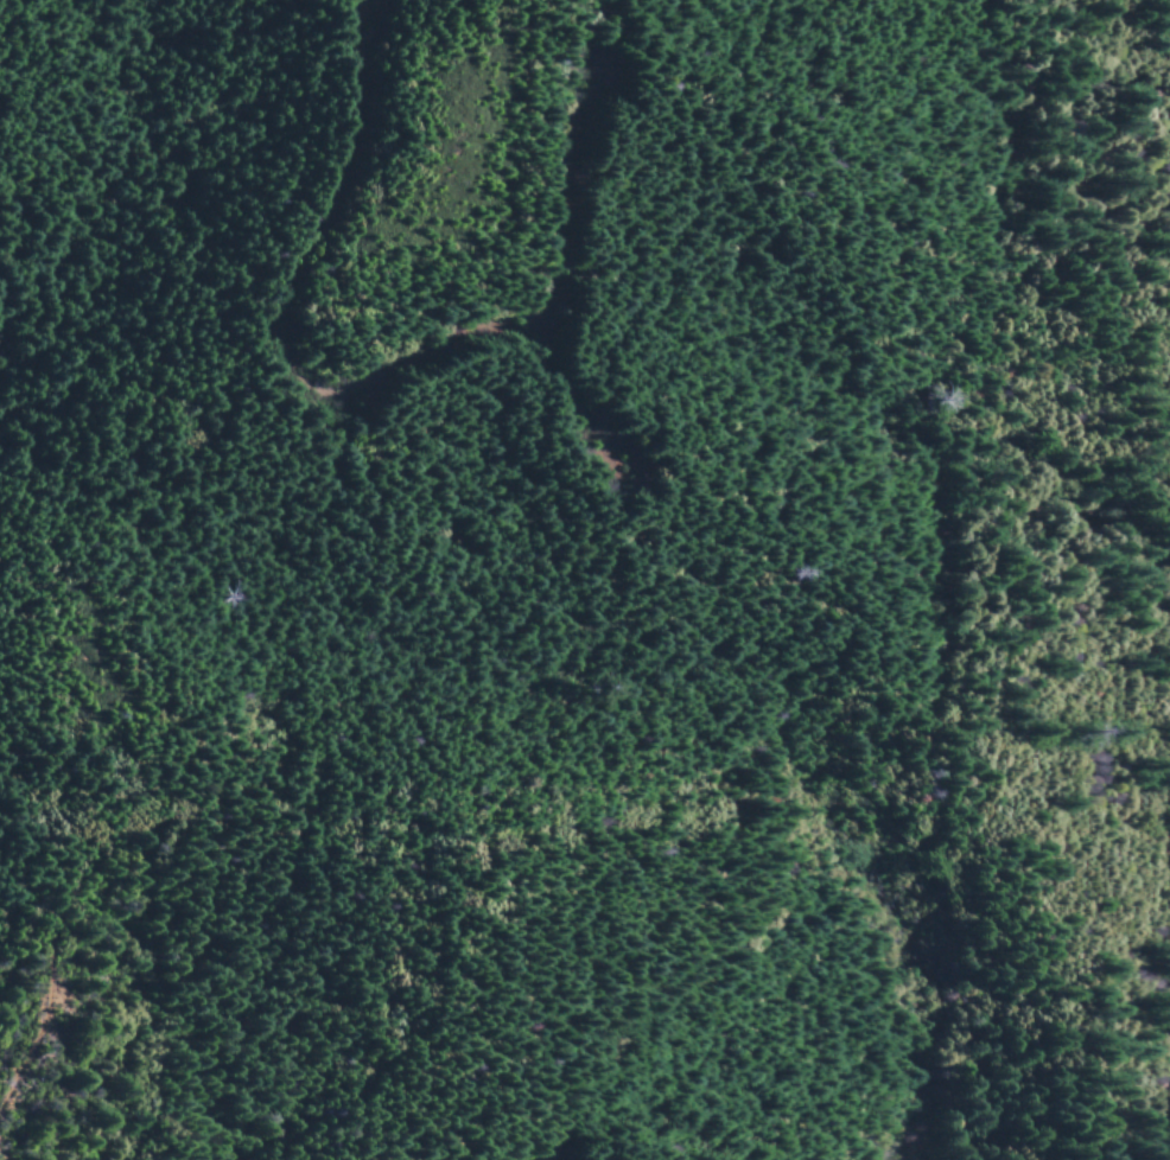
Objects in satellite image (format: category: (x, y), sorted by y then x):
road: (825, 969)

